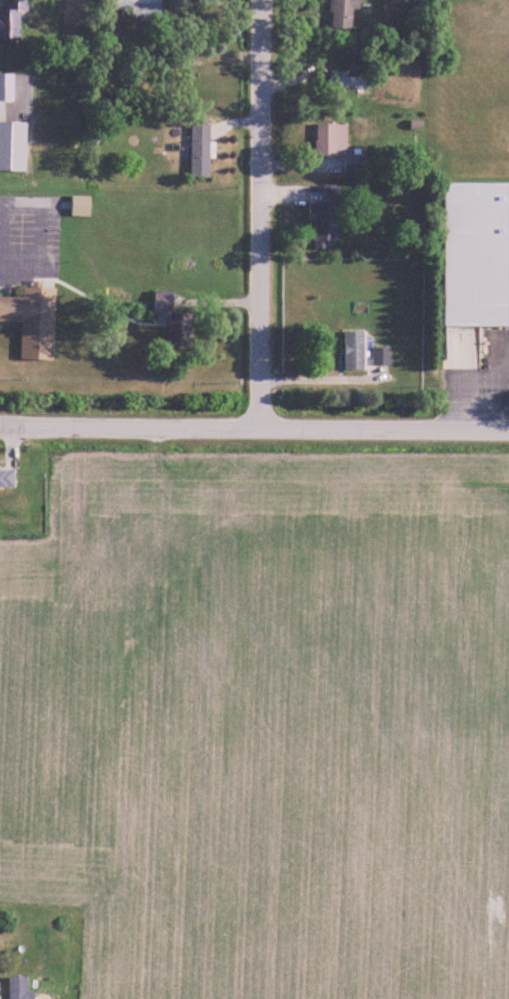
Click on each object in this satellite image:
building: (137, 6)
building: (343, 14)
building: (12, 21)
building: (351, 82)
building: (7, 87)
building: (331, 139)
building: (13, 146)
building: (201, 151)
building: (354, 164)
building: (81, 206)
building: (328, 215)
road: (264, 217)
building: (477, 255)
building: (175, 319)
building: (34, 321)
building: (355, 351)
road: (254, 433)
building: (7, 478)
building: (20, 989)

